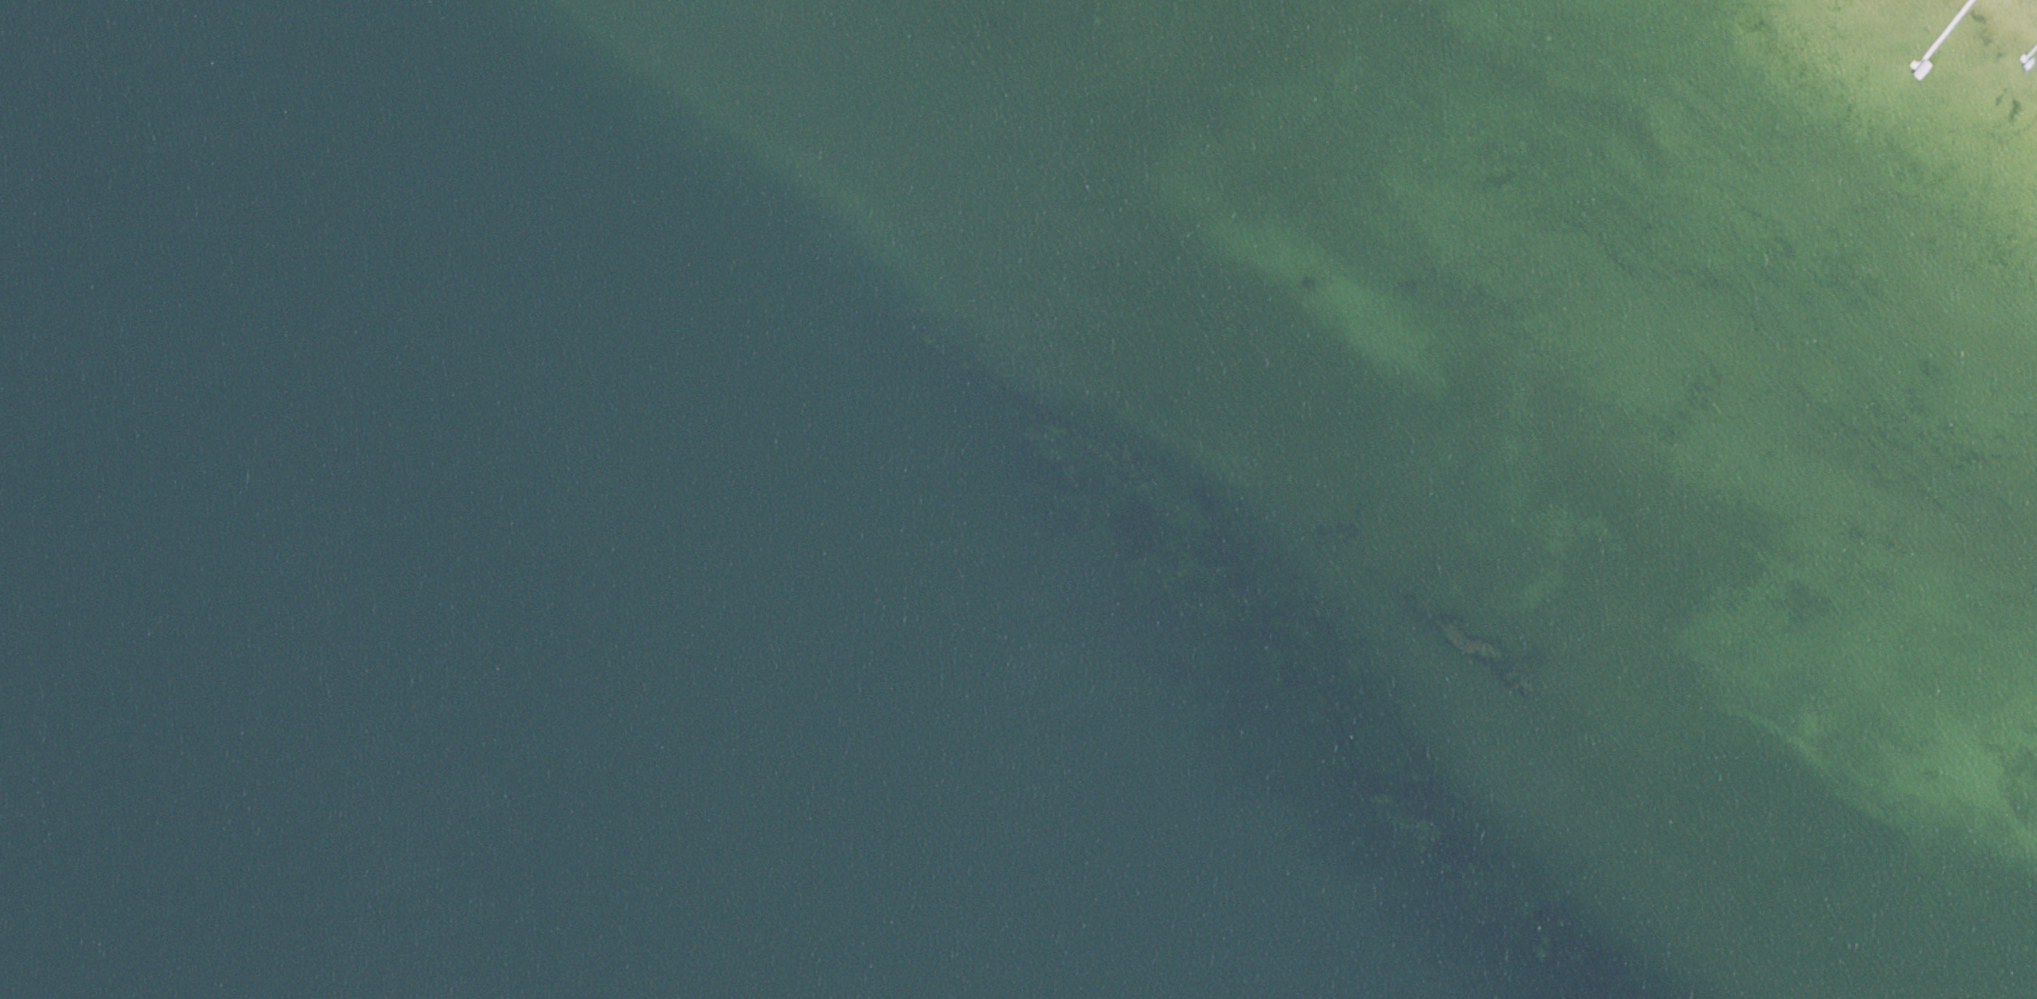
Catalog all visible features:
river: (274, 819)

